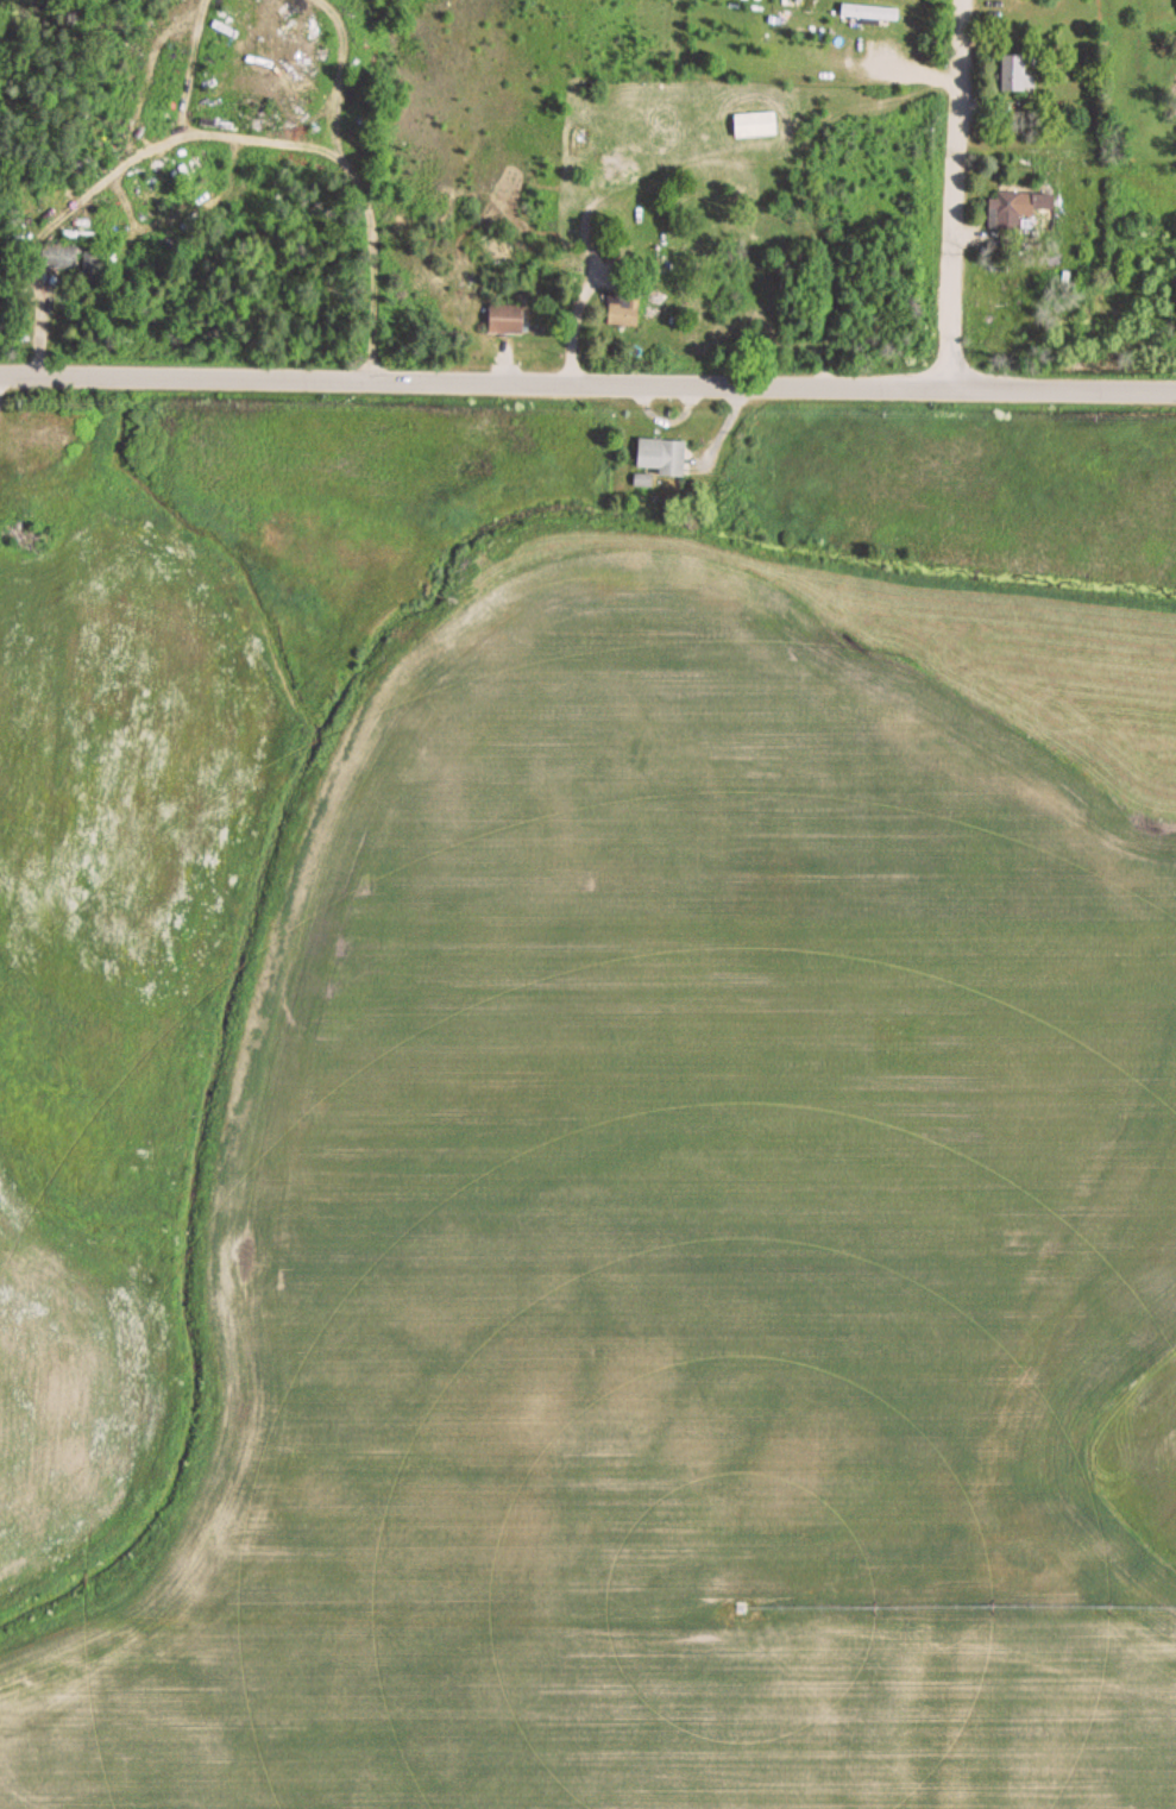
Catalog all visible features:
building: (873, 13)
building: (1019, 73)
building: (759, 126)
road: (955, 193)
building: (1025, 209)
building: (68, 258)
building: (92, 260)
building: (625, 309)
building: (509, 319)
road: (587, 381)
building: (42, 436)
building: (667, 456)

